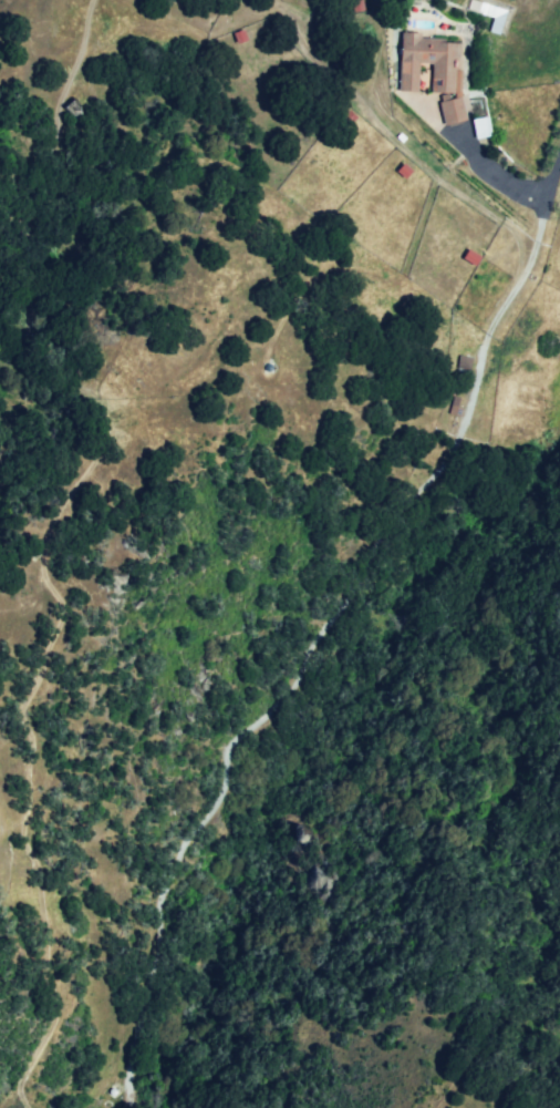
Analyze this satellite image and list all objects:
building: (432, 60)
road: (498, 182)
building: (462, 362)
road: (322, 639)

